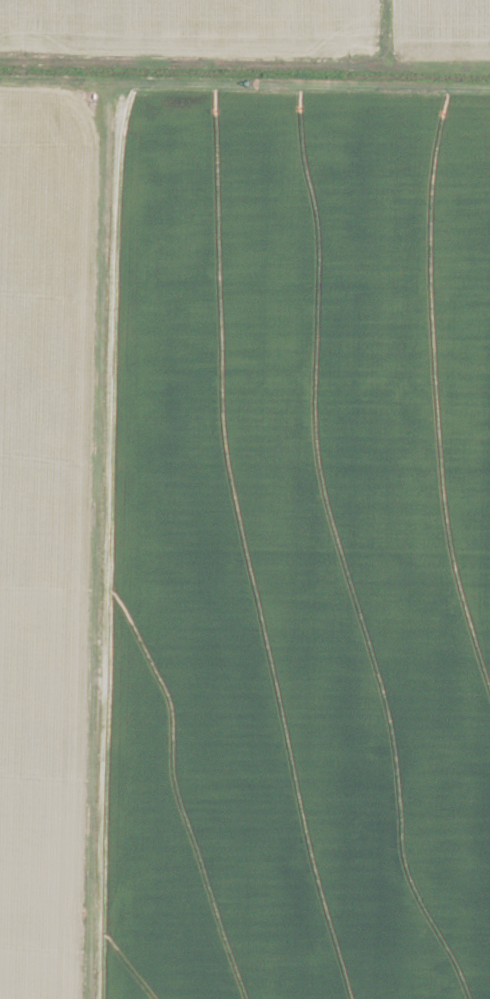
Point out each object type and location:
road: (324, 92)

